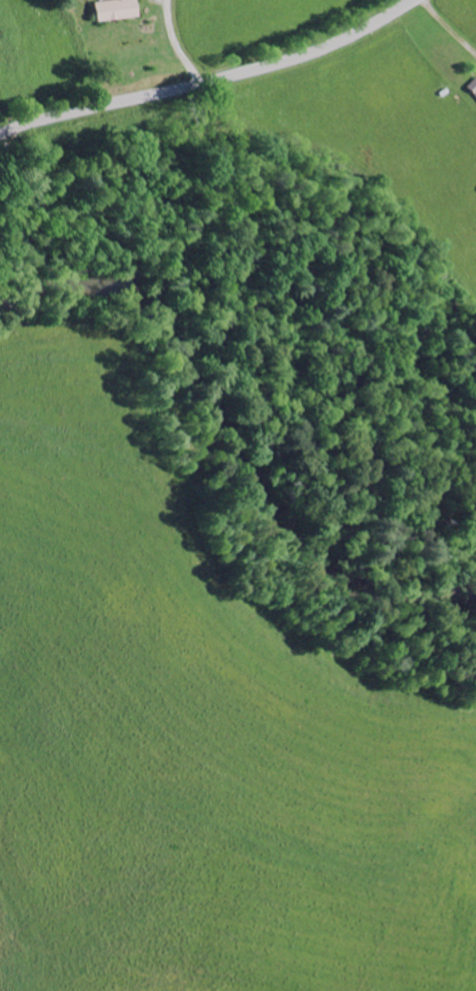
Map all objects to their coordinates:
building: (115, 12)
road: (176, 45)
road: (211, 81)
building: (473, 90)
river: (227, 449)

